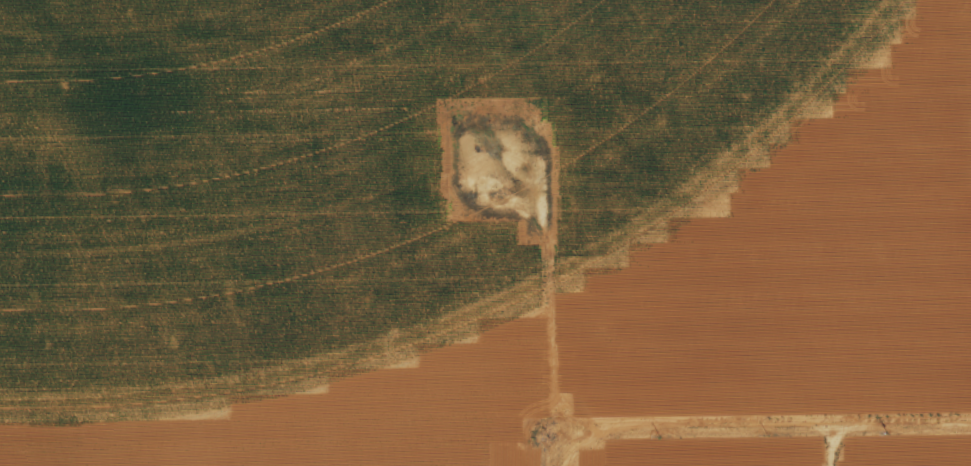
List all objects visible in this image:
road: (548, 344)
road: (758, 399)

